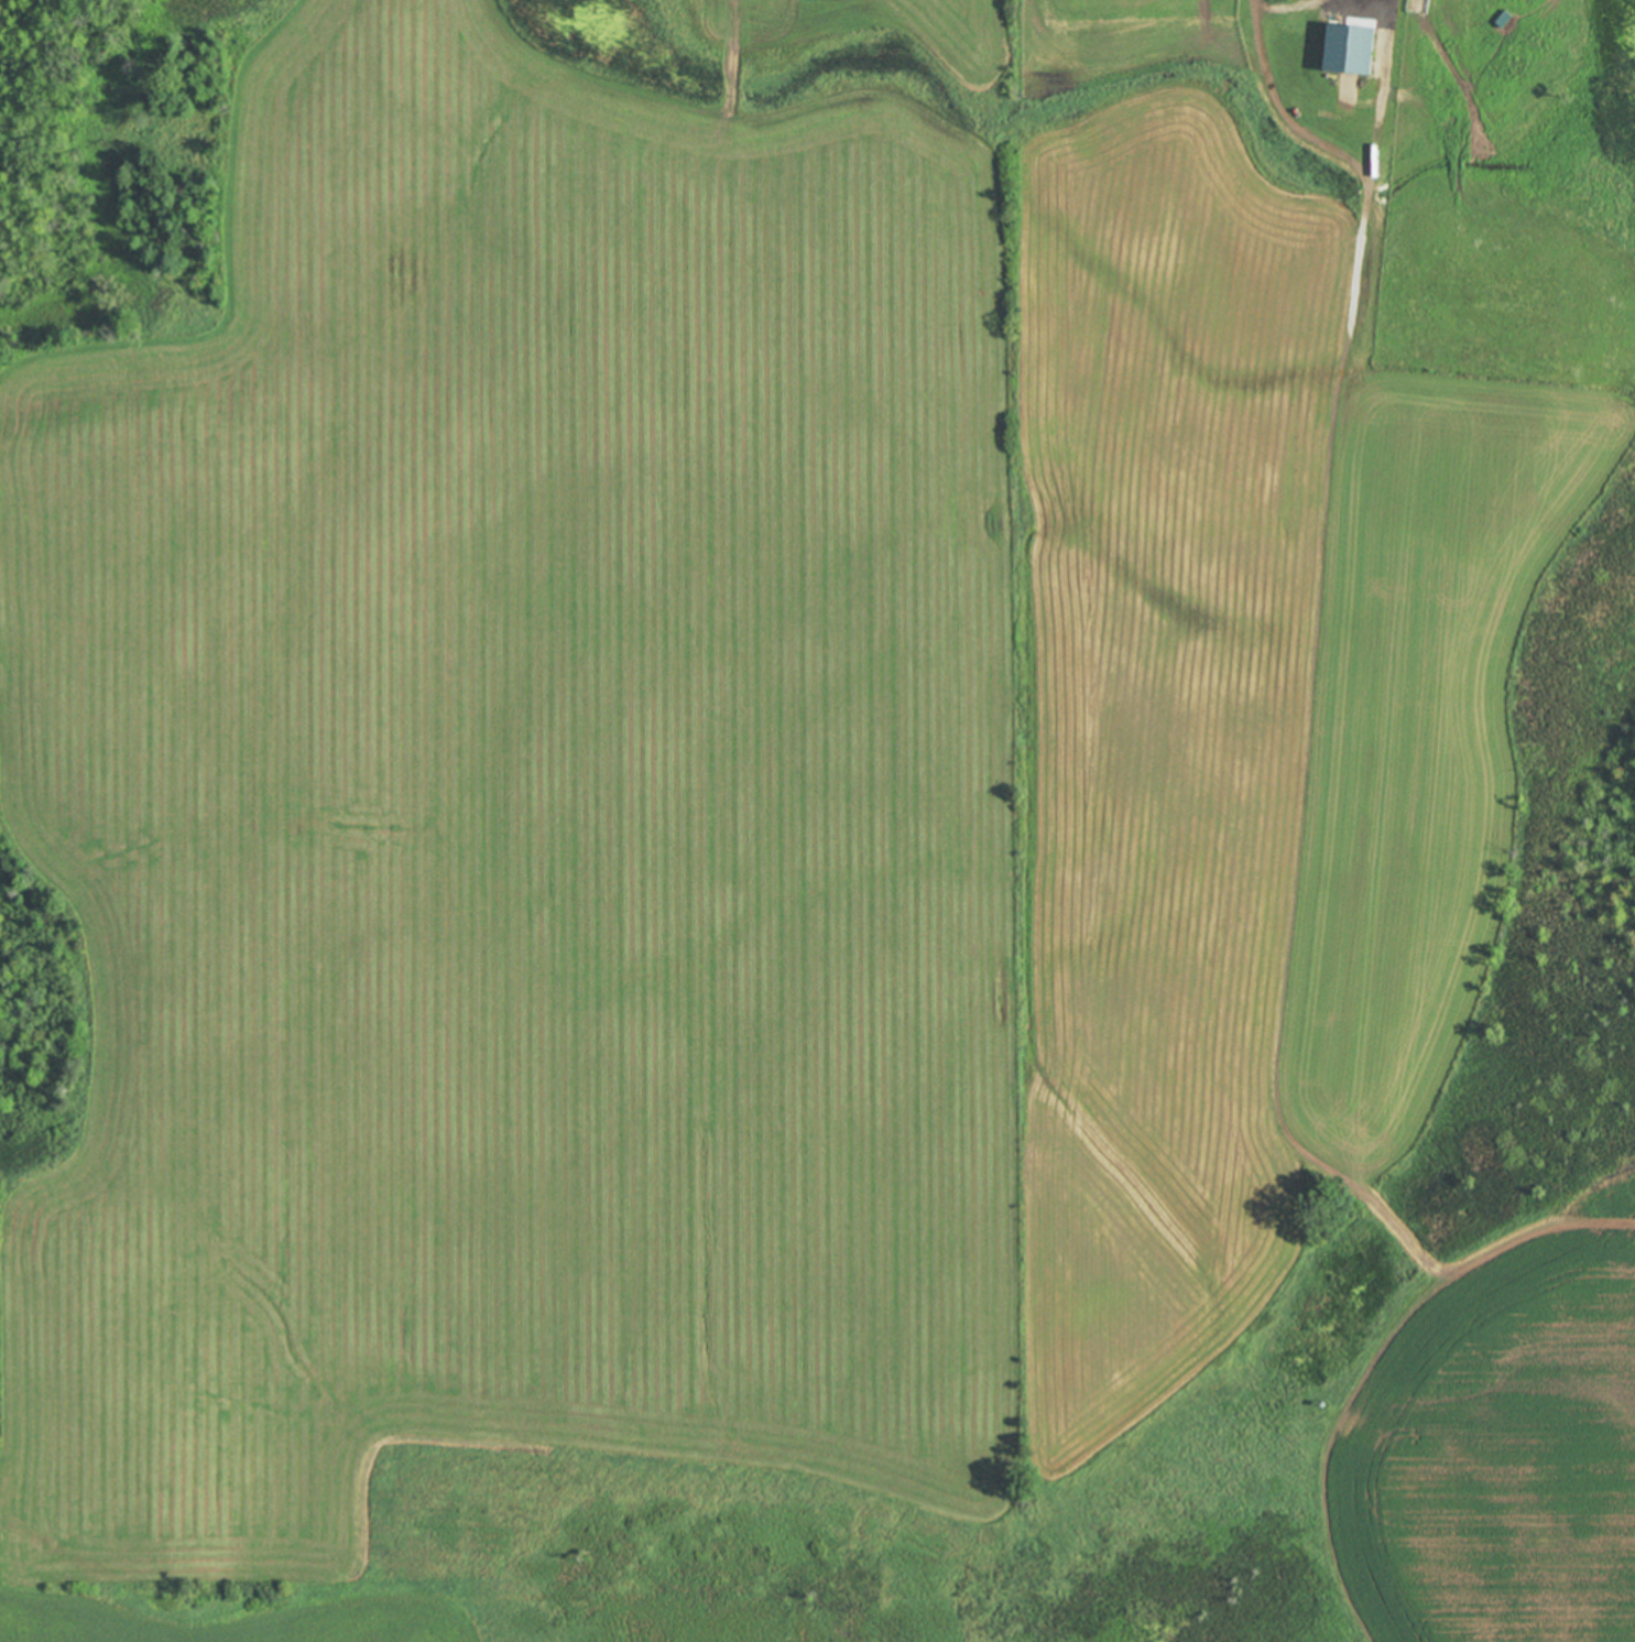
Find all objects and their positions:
building: (1350, 51)

